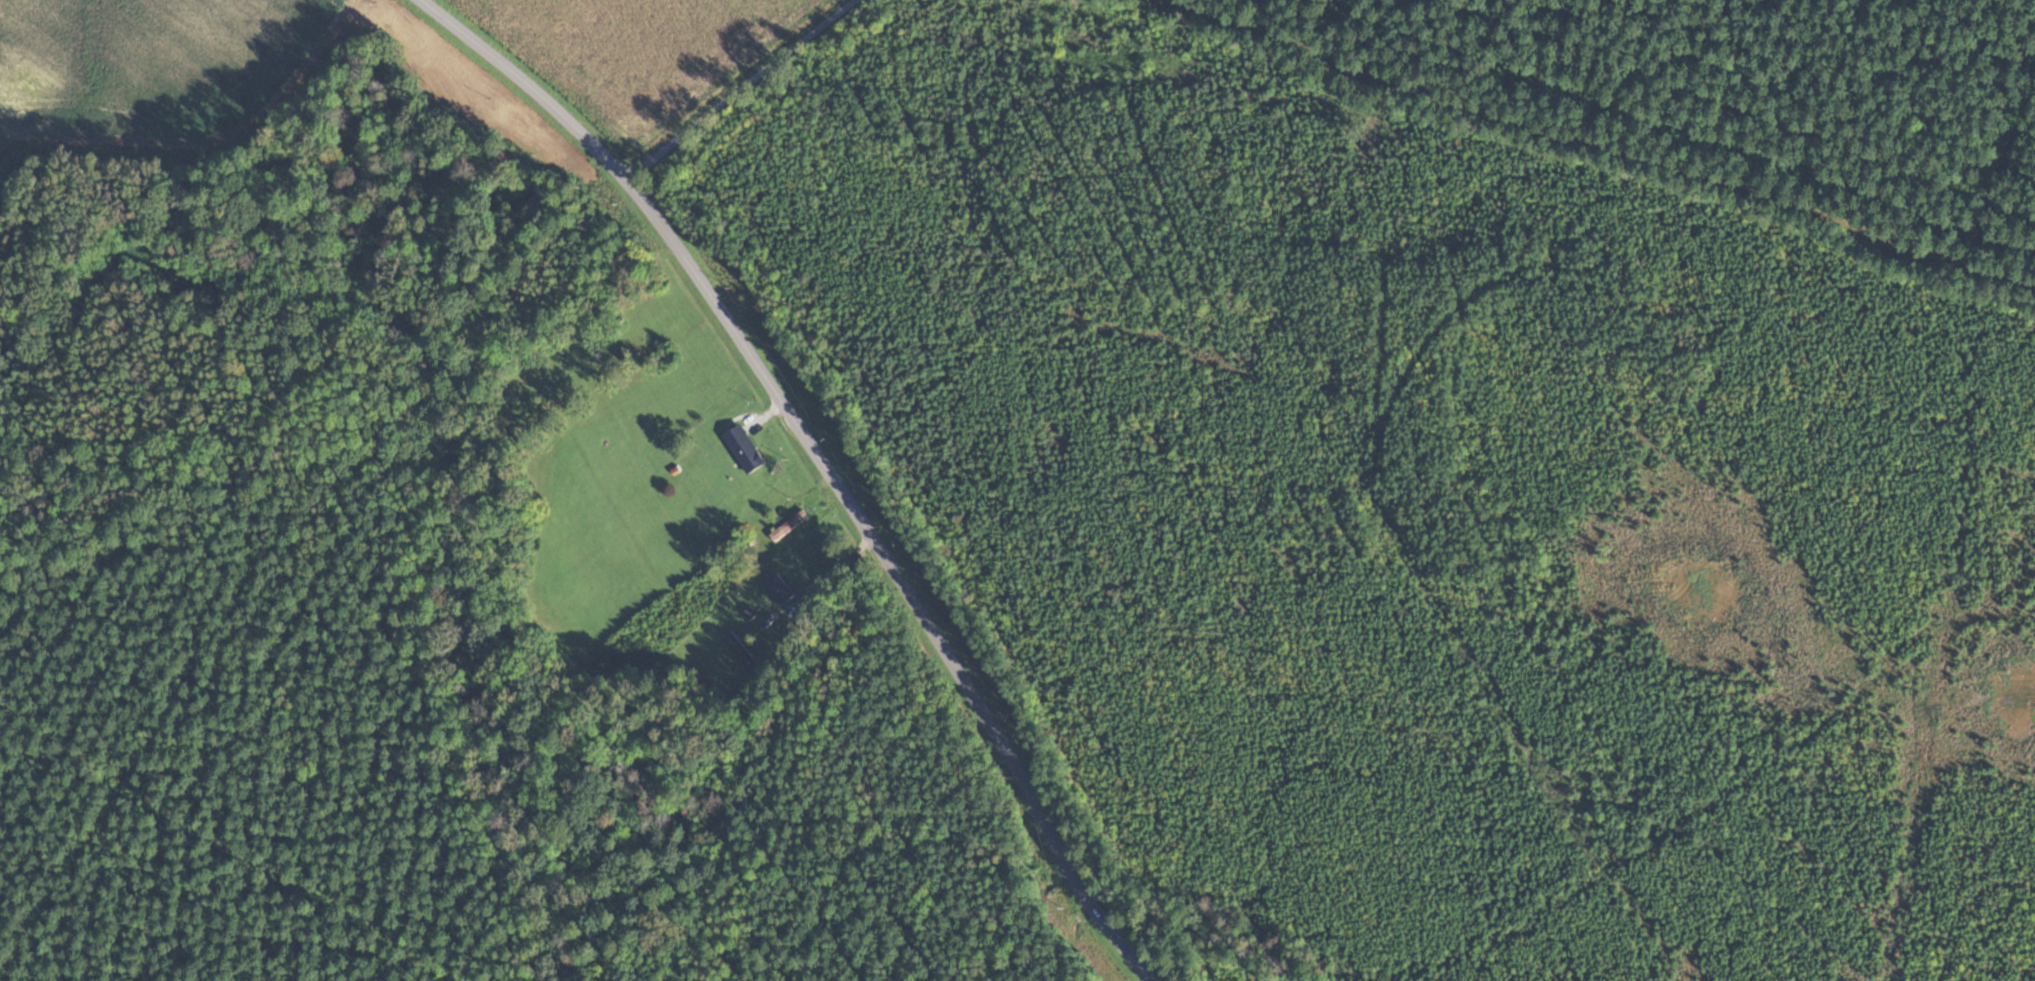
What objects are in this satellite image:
park: (765, 90)
park: (1737, 98)
building: (740, 449)
road: (821, 461)
building: (786, 525)
park: (1361, 540)
building: (776, 590)
building: (741, 651)
building: (717, 676)

